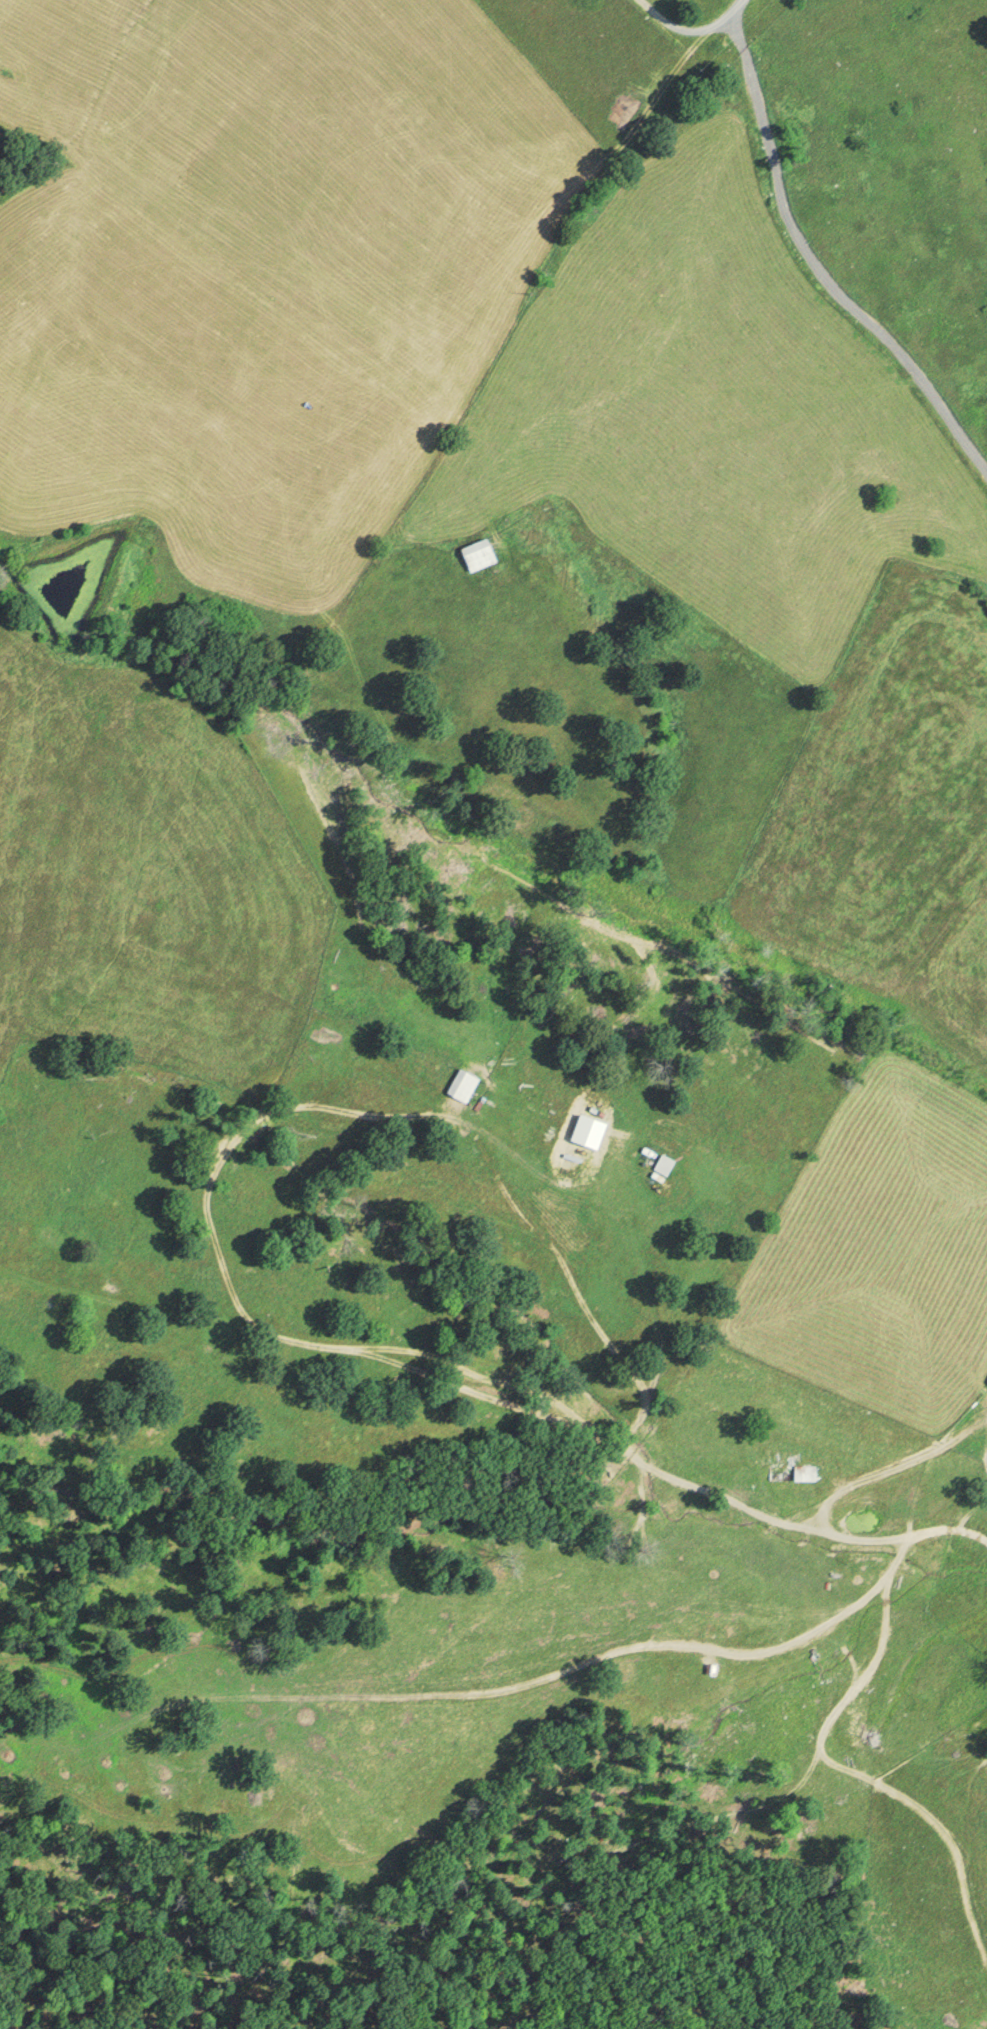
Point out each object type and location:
road: (687, 25)
building: (484, 554)
building: (467, 1085)
building: (668, 1165)
building: (986, 1382)
building: (796, 1471)

